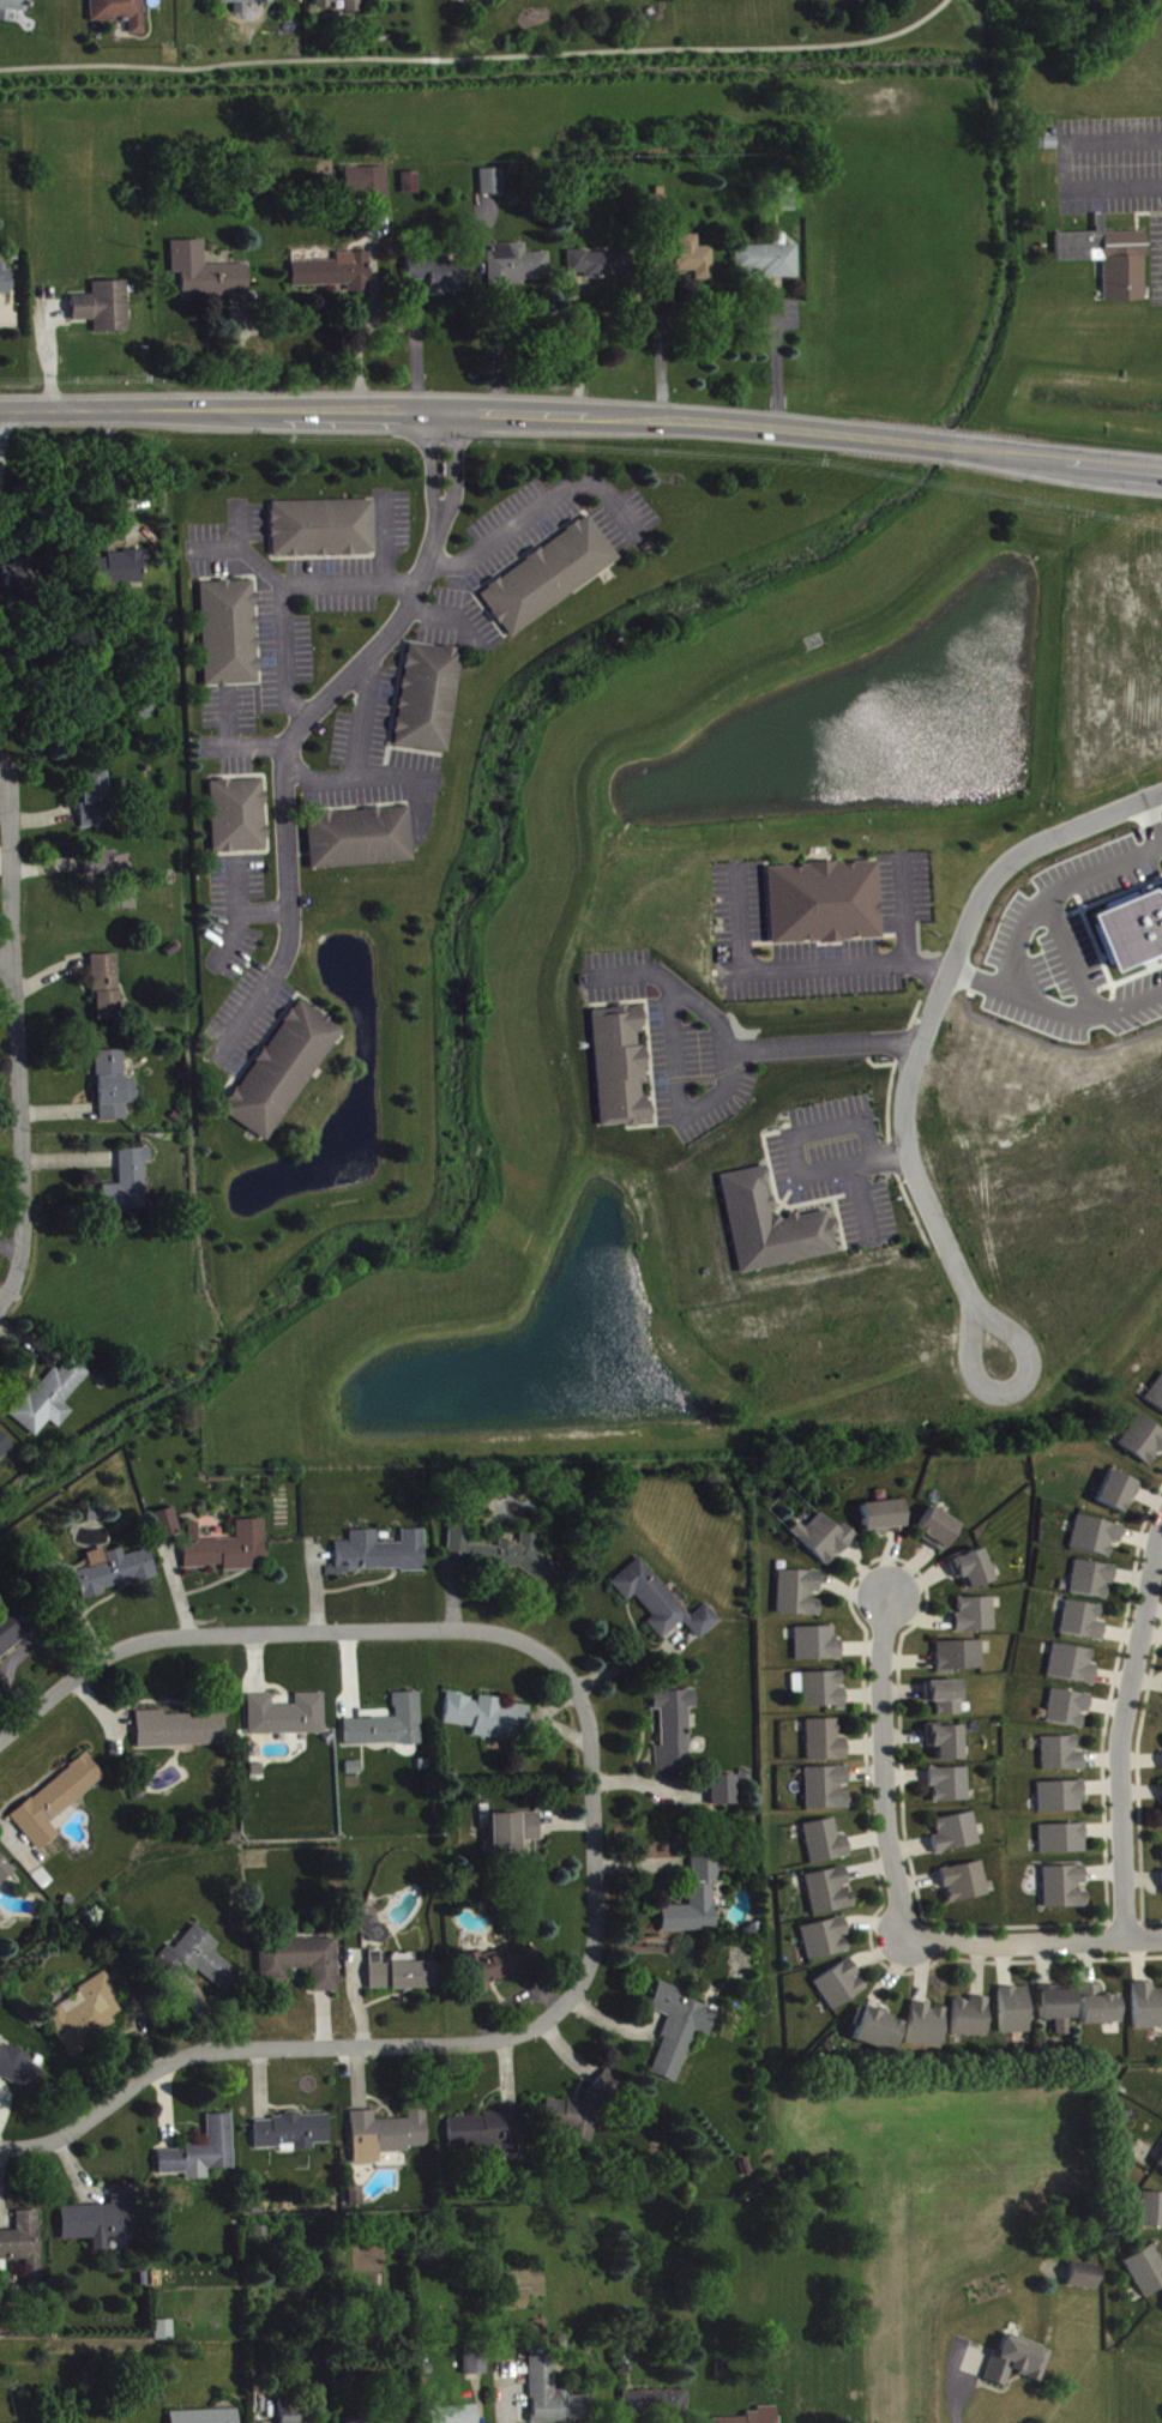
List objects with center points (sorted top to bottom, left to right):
building: (483, 1)
building: (243, 5)
building: (354, 8)
building: (12, 10)
building: (120, 14)
road: (482, 60)
road: (1060, 164)
building: (493, 185)
building: (367, 187)
building: (411, 187)
building: (788, 205)
building: (691, 263)
building: (767, 263)
building: (1110, 263)
building: (517, 269)
building: (601, 270)
building: (336, 276)
building: (440, 276)
building: (206, 277)
building: (4, 282)
building: (104, 311)
road: (574, 345)
road: (657, 346)
road: (773, 356)
road: (582, 412)
road: (113, 471)
road: (537, 519)
building: (324, 532)
building: (16, 578)
building: (549, 580)
road: (279, 591)
road: (438, 620)
building: (230, 638)
building: (428, 701)
road: (306, 718)
road: (356, 747)
building: (94, 804)
building: (239, 820)
road: (1146, 822)
building: (360, 842)
road: (1161, 846)
building: (108, 867)
road: (1050, 891)
building: (120, 903)
building: (824, 906)
building: (1127, 924)
road: (6, 964)
road: (921, 966)
road: (821, 968)
building: (107, 991)
road: (934, 997)
road: (1019, 999)
road: (1128, 1002)
road: (700, 1012)
road: (17, 1060)
building: (620, 1071)
building: (283, 1074)
building: (115, 1090)
building: (128, 1187)
building: (772, 1230)
road: (1010, 1388)
building: (1156, 1399)
building: (50, 1402)
building: (1144, 1445)
building: (5, 1449)
building: (1119, 1496)
building: (884, 1521)
building: (167, 1527)
building: (938, 1533)
building: (1096, 1539)
building: (824, 1542)
building: (228, 1551)
building: (380, 1557)
building: (508, 1559)
building: (974, 1573)
building: (115, 1575)
building: (1092, 1584)
building: (799, 1597)
building: (662, 1607)
building: (976, 1619)
building: (1083, 1625)
road: (253, 1632)
building: (13, 1633)
building: (818, 1649)
building: (961, 1660)
building: (1073, 1669)
building: (820, 1694)
building: (946, 1701)
building: (1068, 1712)
building: (288, 1719)
building: (489, 1720)
road: (1121, 1724)
building: (390, 1729)
building: (675, 1732)
building: (180, 1734)
building: (826, 1744)
building: (947, 1747)
building: (1061, 1759)
road: (897, 1770)
building: (950, 1788)
building: (827, 1792)
building: (724, 1795)
building: (1061, 1801)
building: (58, 1806)
road: (590, 1822)
building: (513, 1836)
building: (957, 1837)
building: (1062, 1843)
building: (826, 1846)
building: (5, 1873)
building: (965, 1886)
building: (1065, 1892)
building: (830, 1895)
building: (0, 1898)
building: (696, 1901)
road: (1031, 1936)
building: (825, 1942)
building: (205, 1963)
building: (301, 1966)
building: (499, 1971)
building: (401, 1978)
building: (839, 1989)
building: (1100, 2011)
building: (1148, 2011)
building: (1058, 2012)
building: (1015, 2014)
building: (88, 2018)
building: (971, 2021)
building: (926, 2030)
building: (679, 2033)
building: (877, 2035)
road: (287, 2045)
building: (20, 2073)
building: (582, 2115)
building: (291, 2136)
building: (489, 2138)
building: (386, 2139)
road: (16, 2147)
building: (203, 2156)
building: (1160, 2168)
building: (355, 2198)
building: (1150, 2214)
building: (103, 2223)
building: (24, 2247)
building: (1146, 2274)
building: (1084, 2280)
building: (165, 2334)
building: (1017, 2365)
building: (476, 2369)
building: (554, 2398)
road: (955, 2399)
building: (655, 2407)
building: (290, 2413)
building: (456, 2417)
building: (206, 2418)
building: (761, 2418)
building: (379, 2422)

